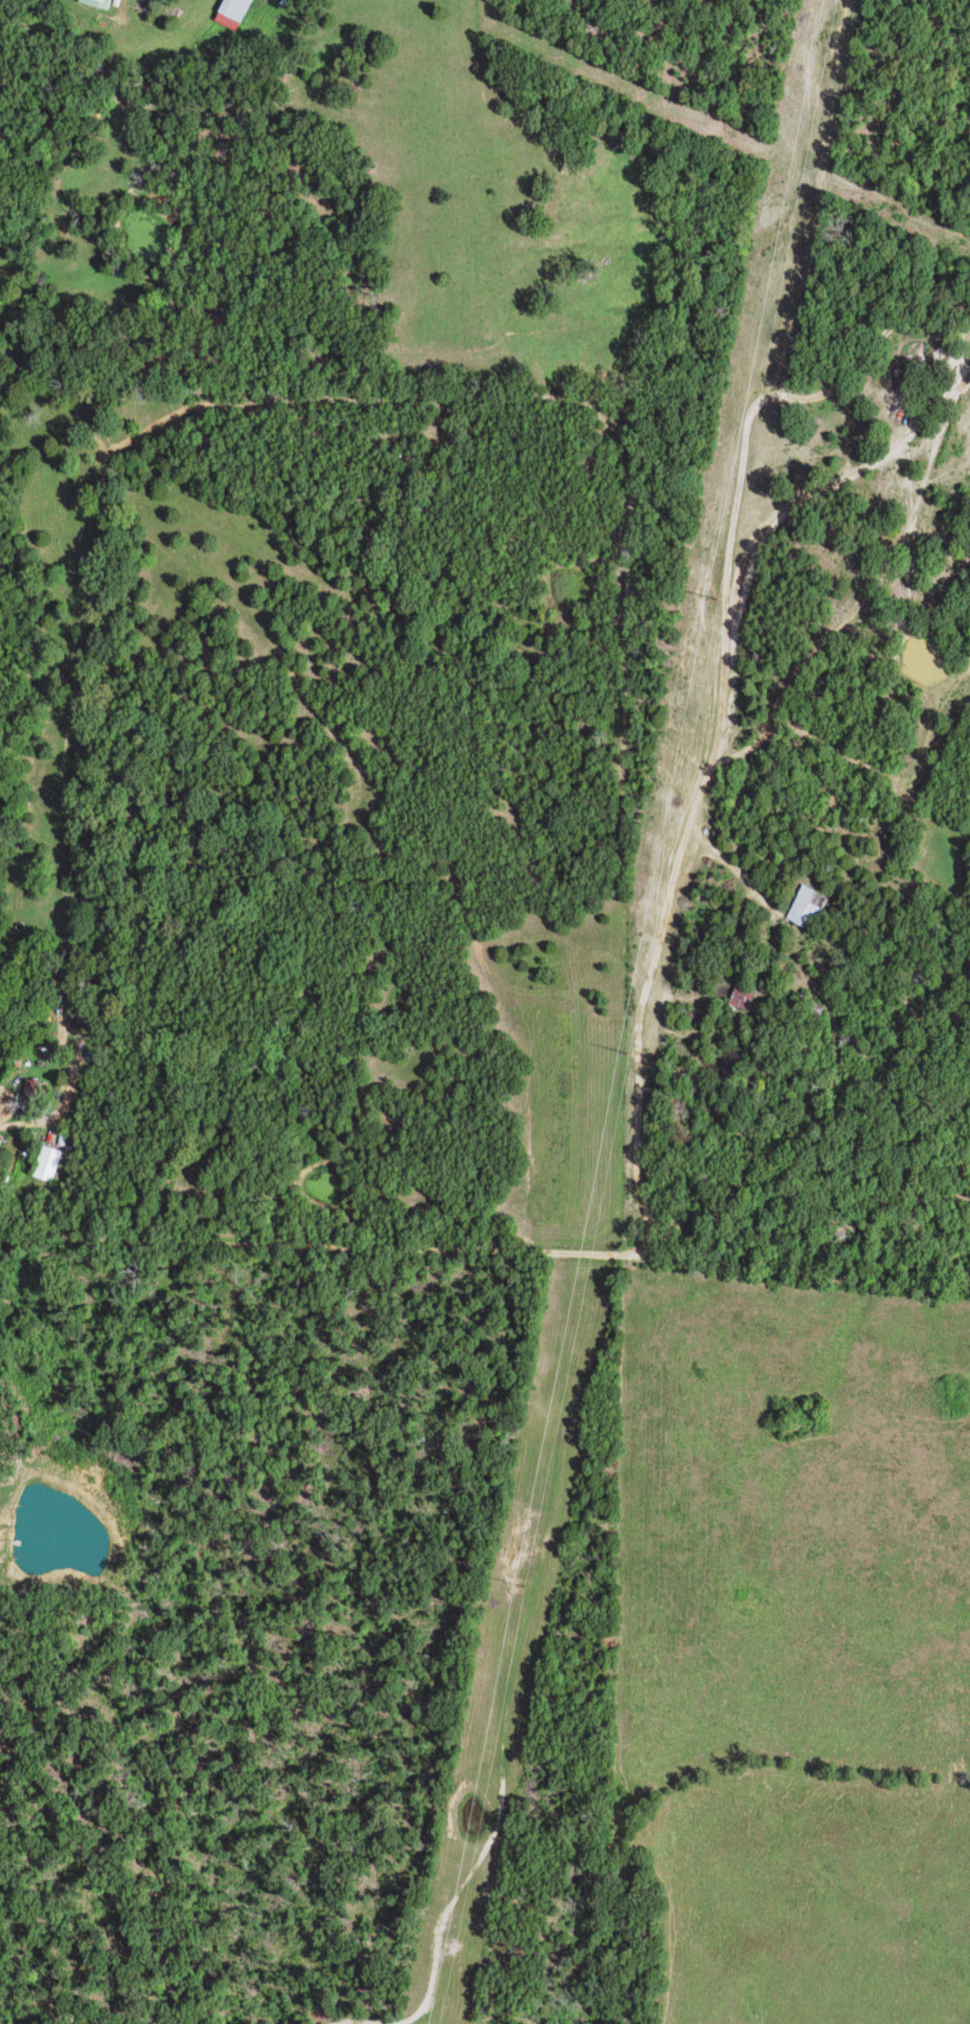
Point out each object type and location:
building: (102, 3)
building: (237, 13)
power tower: (714, 601)
power tower: (627, 1055)
building: (52, 1163)
road: (300, 1242)
power tower: (523, 1591)

